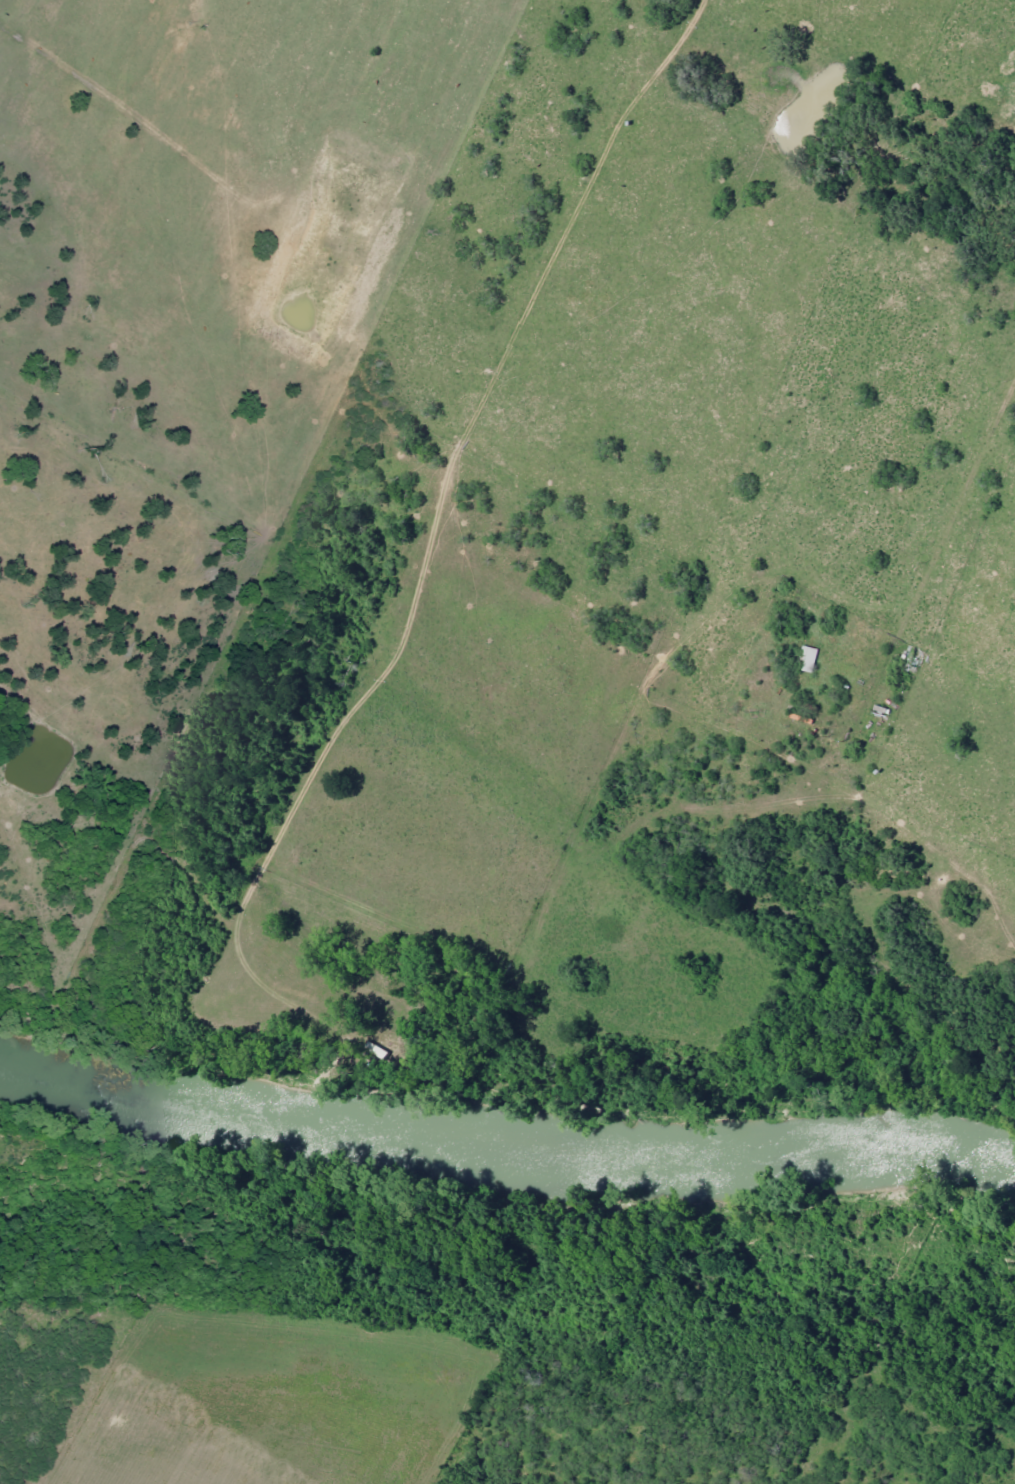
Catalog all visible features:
road: (93, 237)
road: (928, 929)
river: (515, 1121)

